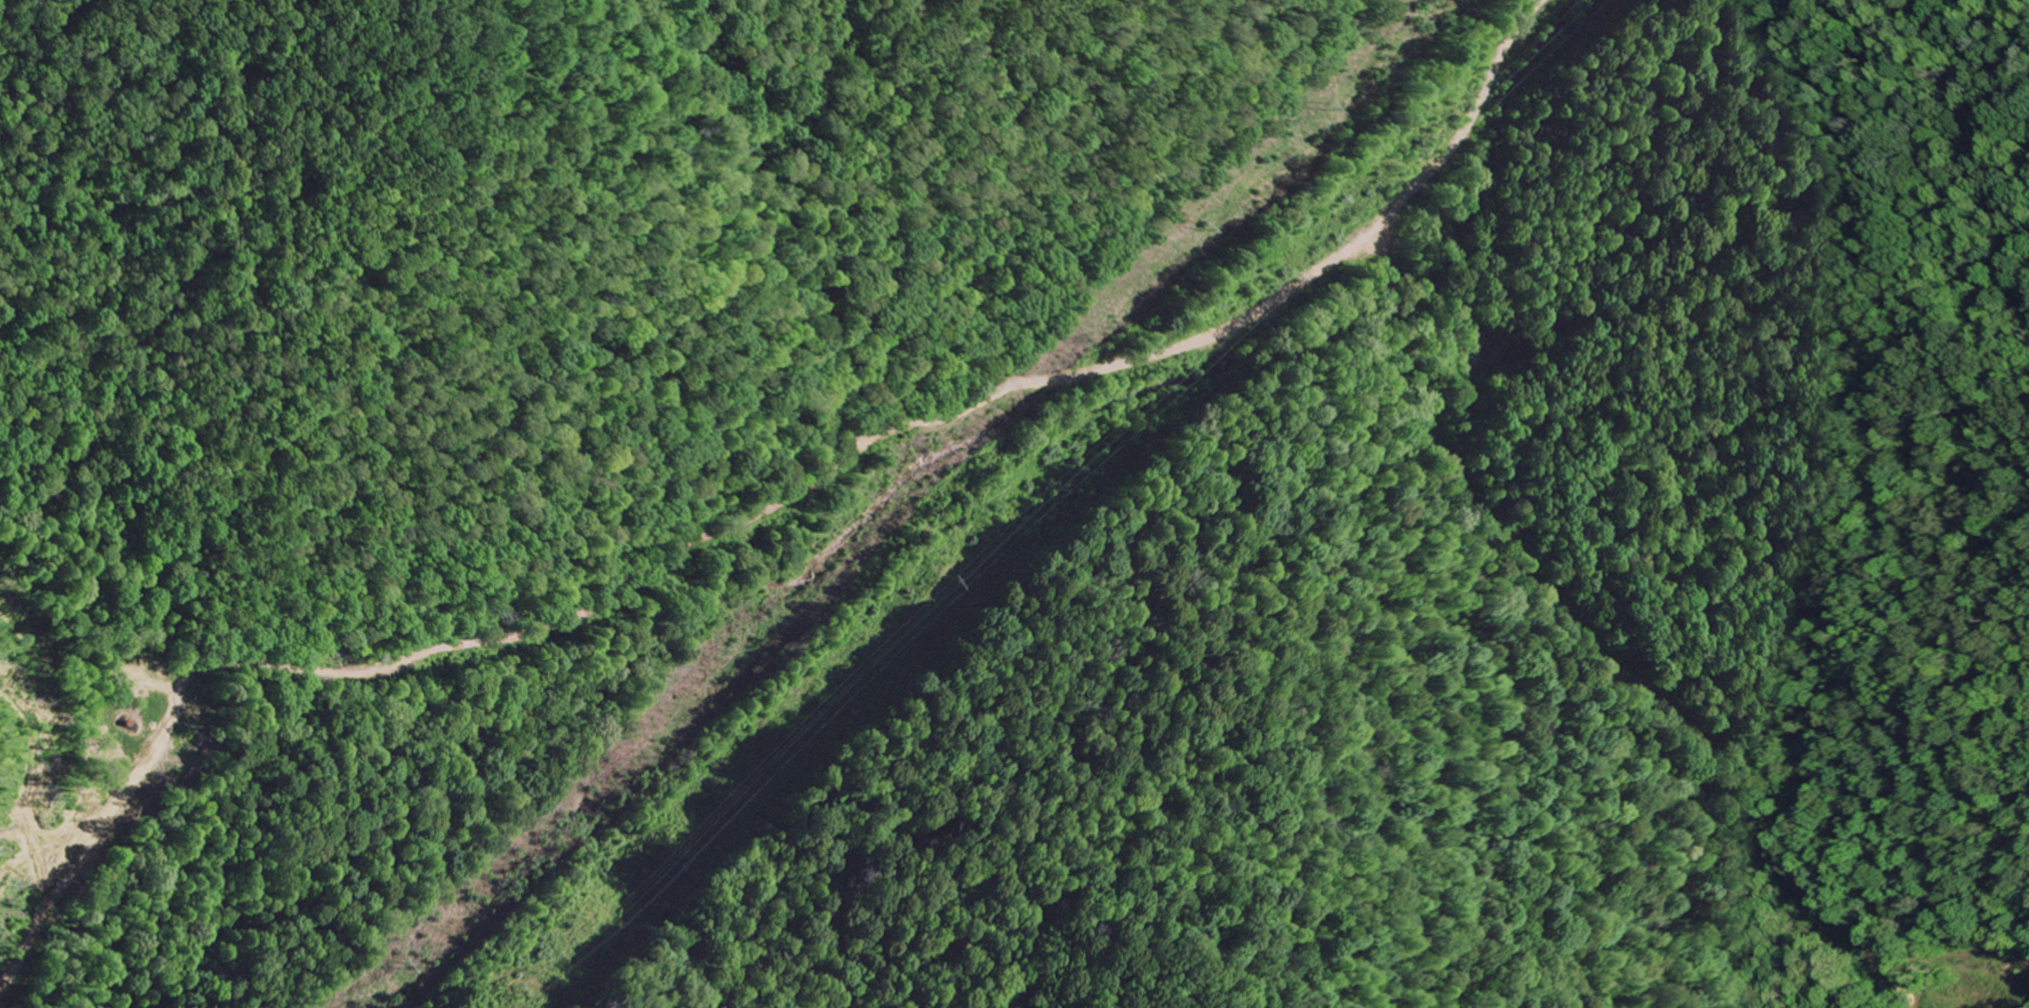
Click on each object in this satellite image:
road: (795, 497)
power tower: (504, 1000)

